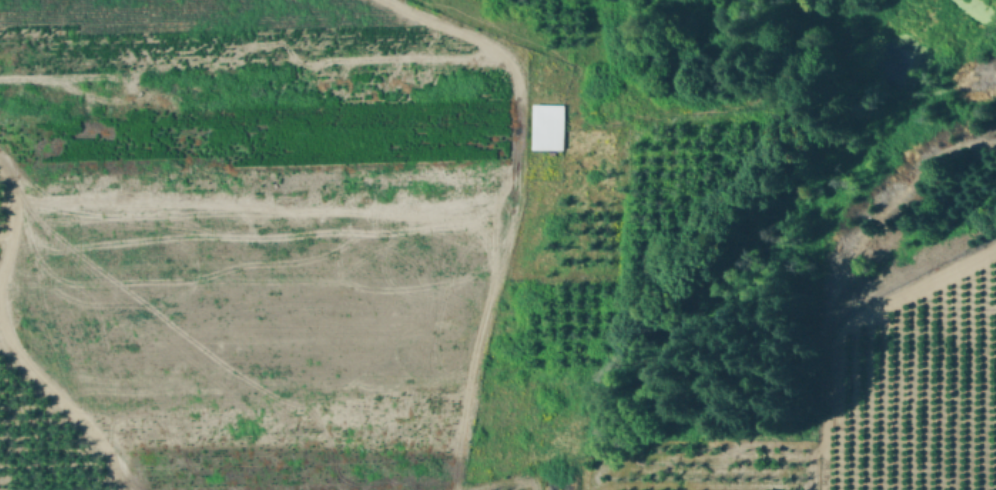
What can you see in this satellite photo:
building: (548, 128)
crop: (910, 385)

